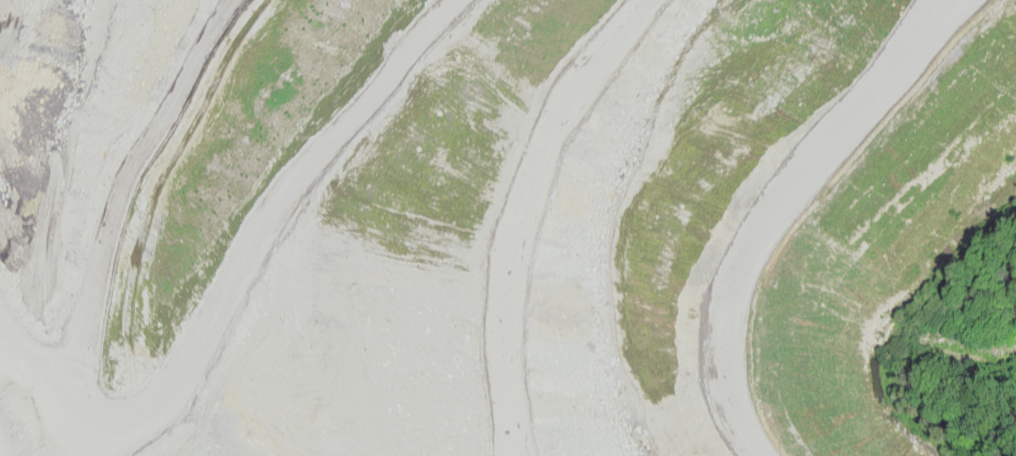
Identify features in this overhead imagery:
road: (779, 211)
quarry: (479, 219)

